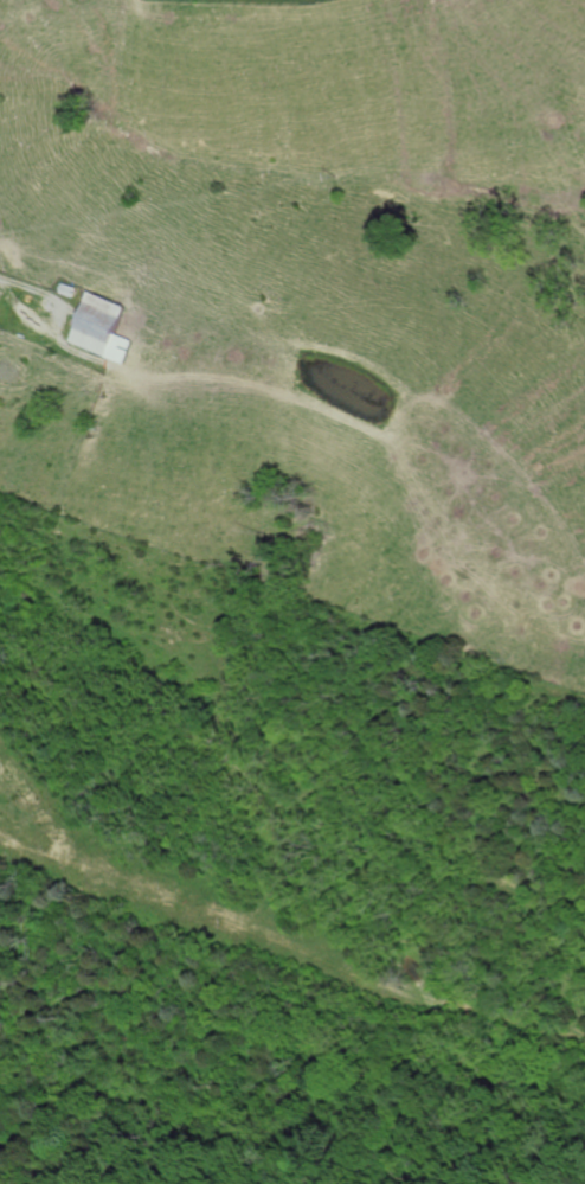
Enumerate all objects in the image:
building: (98, 328)

